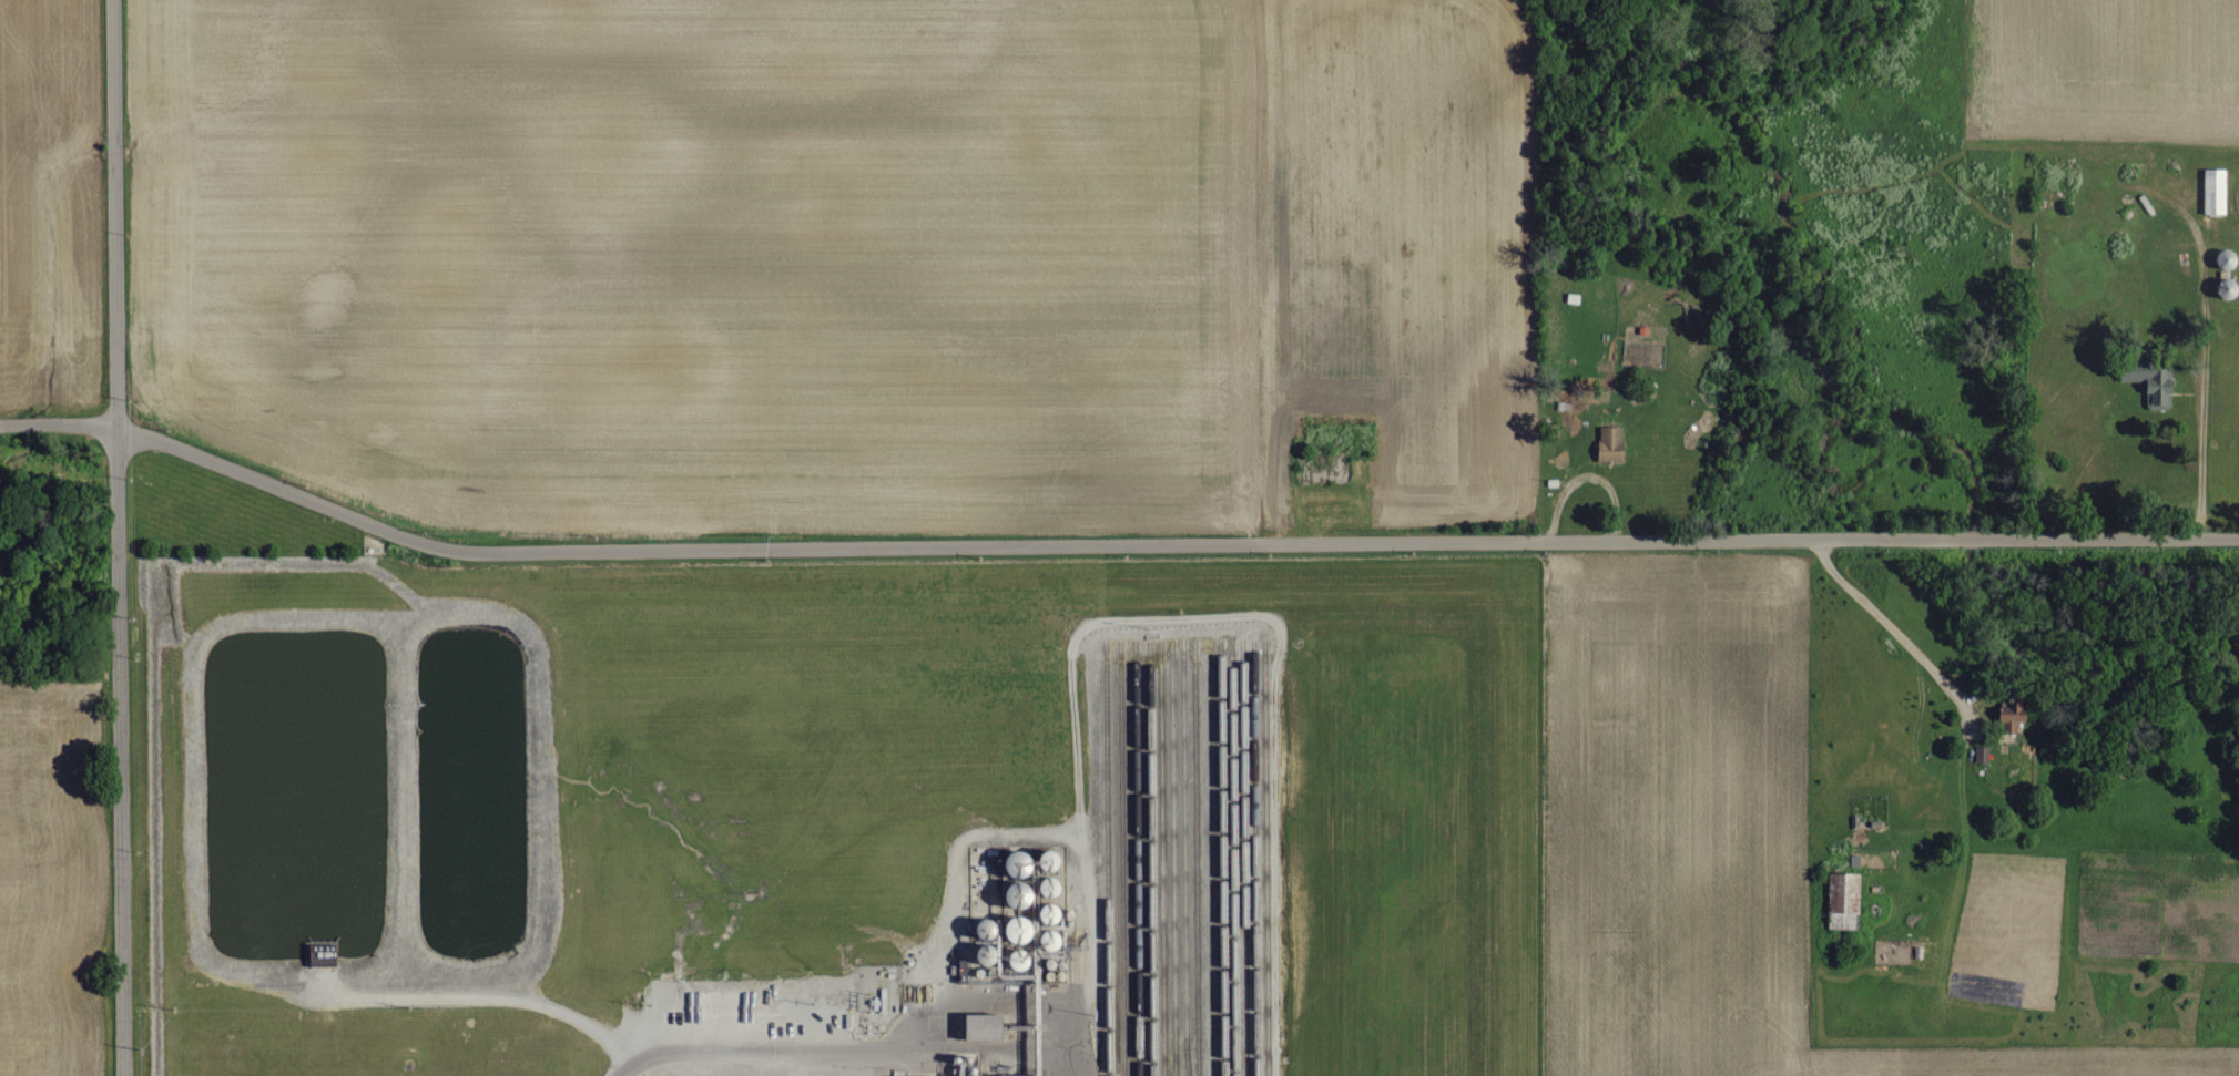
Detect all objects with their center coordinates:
building: (2217, 193)
road: (113, 213)
building: (2157, 383)
road: (58, 423)
building: (1612, 444)
road: (2197, 467)
road: (1975, 539)
road: (2114, 539)
road: (1027, 546)
road: (1956, 700)
building: (2016, 713)
road: (119, 751)
building: (1983, 755)
silo: (1047, 859)
silo: (1012, 862)
building: (1025, 863)
railway: (1106, 863)
railway: (1121, 863)
railway: (1137, 863)
railway: (1150, 863)
railway: (1161, 863)
railway: (1172, 863)
railway: (1183, 863)
railway: (1221, 863)
railway: (1232, 863)
railway: (1195, 867)
silo: (1047, 887)
silo: (1014, 893)
building: (1846, 901)
silo: (1048, 913)
silo: (1014, 929)
road: (1089, 936)
silo: (1048, 940)
silo: (1015, 959)
road: (475, 998)
building: (979, 1025)
road: (852, 1048)
road: (1091, 1060)
building: (981, 1073)

